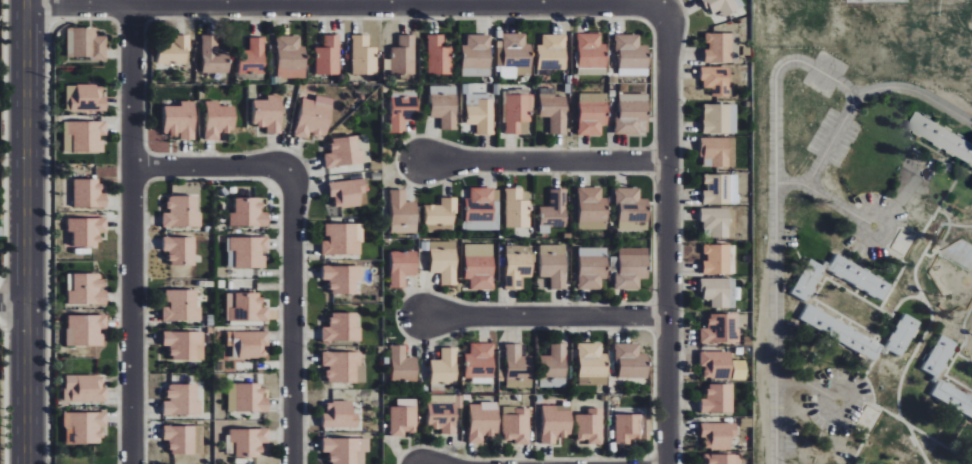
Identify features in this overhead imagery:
road: (344, 4)
building: (720, 6)
building: (86, 43)
building: (717, 48)
building: (175, 51)
building: (590, 51)
building: (551, 52)
building: (363, 55)
building: (437, 55)
building: (631, 55)
building: (213, 56)
building: (328, 56)
building: (403, 56)
building: (475, 56)
building: (253, 57)
building: (291, 57)
building: (713, 80)
road: (897, 87)
building: (86, 98)
building: (443, 105)
building: (554, 110)
building: (479, 111)
road: (810, 111)
building: (401, 112)
building: (517, 112)
building: (269, 113)
building: (592, 113)
building: (631, 114)
building: (314, 117)
building: (219, 119)
building: (716, 119)
building: (181, 120)
building: (84, 136)
building: (941, 137)
building: (348, 151)
building: (713, 151)
road: (545, 164)
building: (718, 189)
building: (347, 192)
building: (89, 194)
road: (836, 199)
building: (515, 209)
building: (554, 209)
building: (591, 209)
building: (631, 209)
building: (182, 211)
building: (440, 212)
building: (249, 213)
building: (402, 213)
building: (712, 222)
building: (87, 231)
road: (20, 232)
road: (128, 234)
road: (668, 236)
road: (293, 237)
building: (343, 239)
building: (181, 250)
building: (250, 251)
building: (713, 260)
building: (444, 261)
building: (554, 264)
building: (479, 266)
building: (403, 267)
building: (591, 267)
building: (631, 268)
building: (517, 270)
building: (856, 277)
building: (343, 278)
building: (804, 280)
building: (715, 292)
road: (10, 301)
building: (182, 306)
building: (246, 307)
road: (546, 318)
road: (774, 326)
building: (343, 327)
building: (86, 330)
building: (716, 330)
building: (838, 333)
building: (900, 335)
building: (185, 344)
building: (248, 344)
building: (936, 356)
building: (592, 360)
building: (631, 361)
building: (480, 363)
building: (711, 364)
building: (402, 365)
building: (344, 367)
building: (444, 367)
building: (517, 367)
building: (553, 367)
building: (592, 381)
road: (810, 386)
building: (85, 389)
building: (247, 398)
building: (714, 399)
building: (951, 399)
building: (183, 400)
building: (340, 415)
building: (402, 417)
building: (441, 417)
building: (483, 421)
building: (556, 422)
building: (516, 424)
building: (590, 426)
building: (85, 427)
building: (628, 429)
building: (184, 439)
building: (247, 442)
building: (347, 450)
building: (719, 459)

